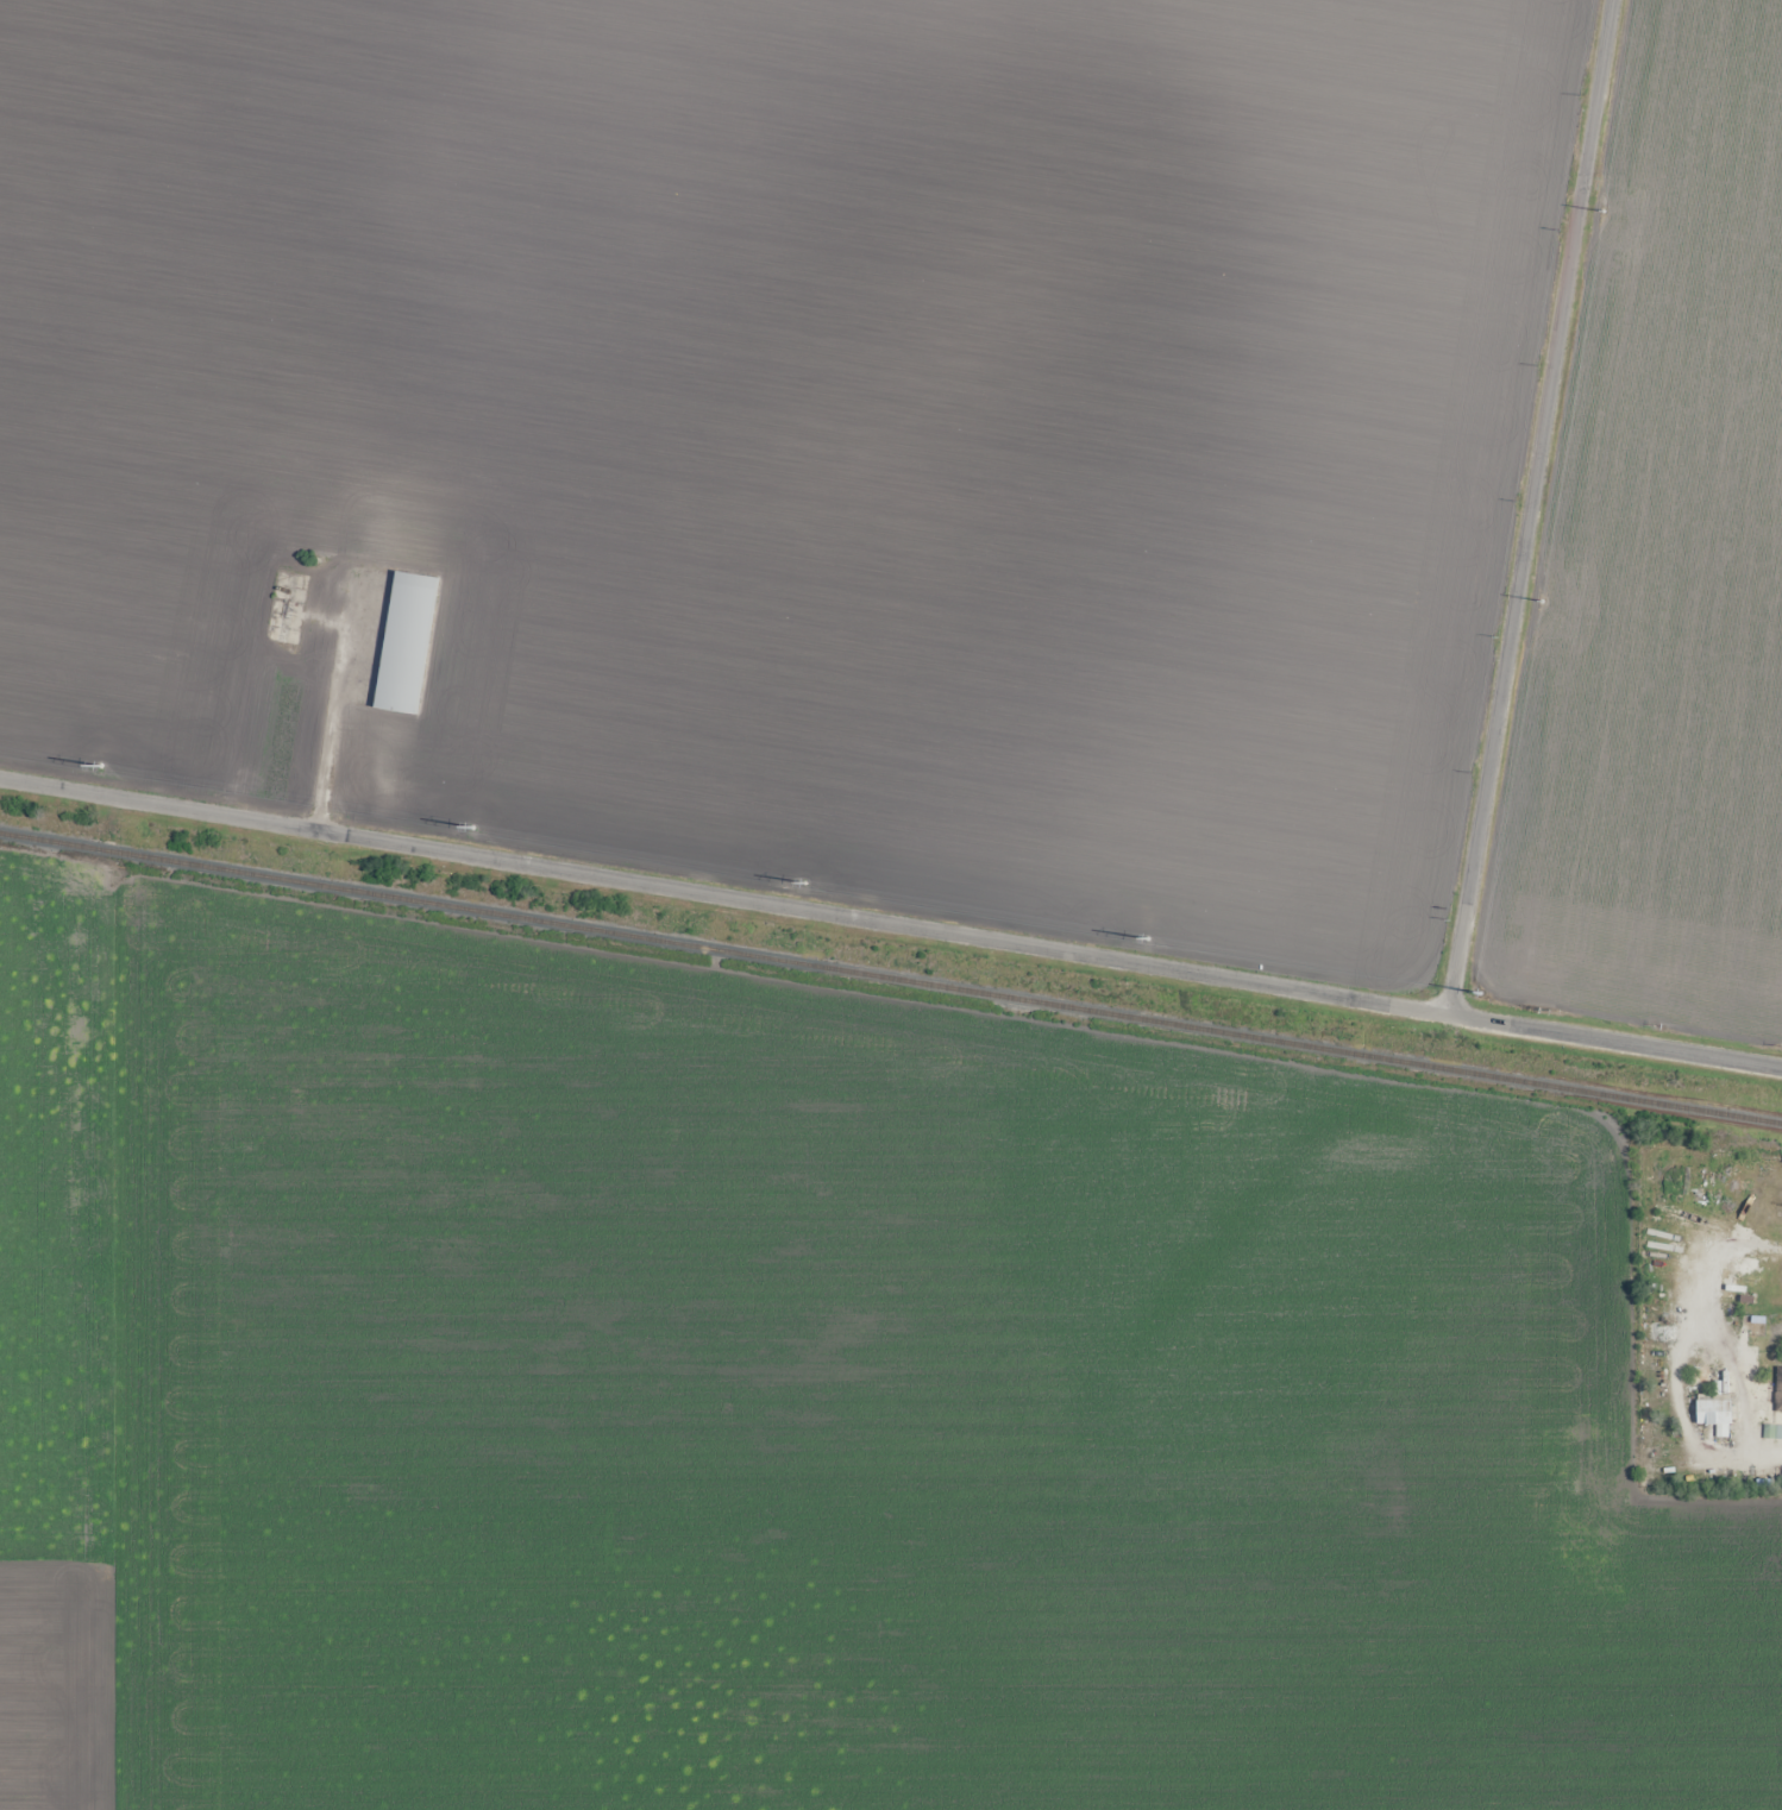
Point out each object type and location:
power tower: (1598, 214)
road: (1529, 507)
crop: (1662, 561)
building: (281, 609)
power tower: (1533, 609)
building: (377, 645)
building: (366, 696)
power tower: (102, 767)
power tower: (465, 828)
power tower: (798, 881)
road: (891, 923)
power tower: (1134, 936)
railway: (890, 978)
power tower: (1480, 985)
building: (1778, 1391)
building: (1714, 1414)
building: (1775, 1433)
building: (1781, 1476)

